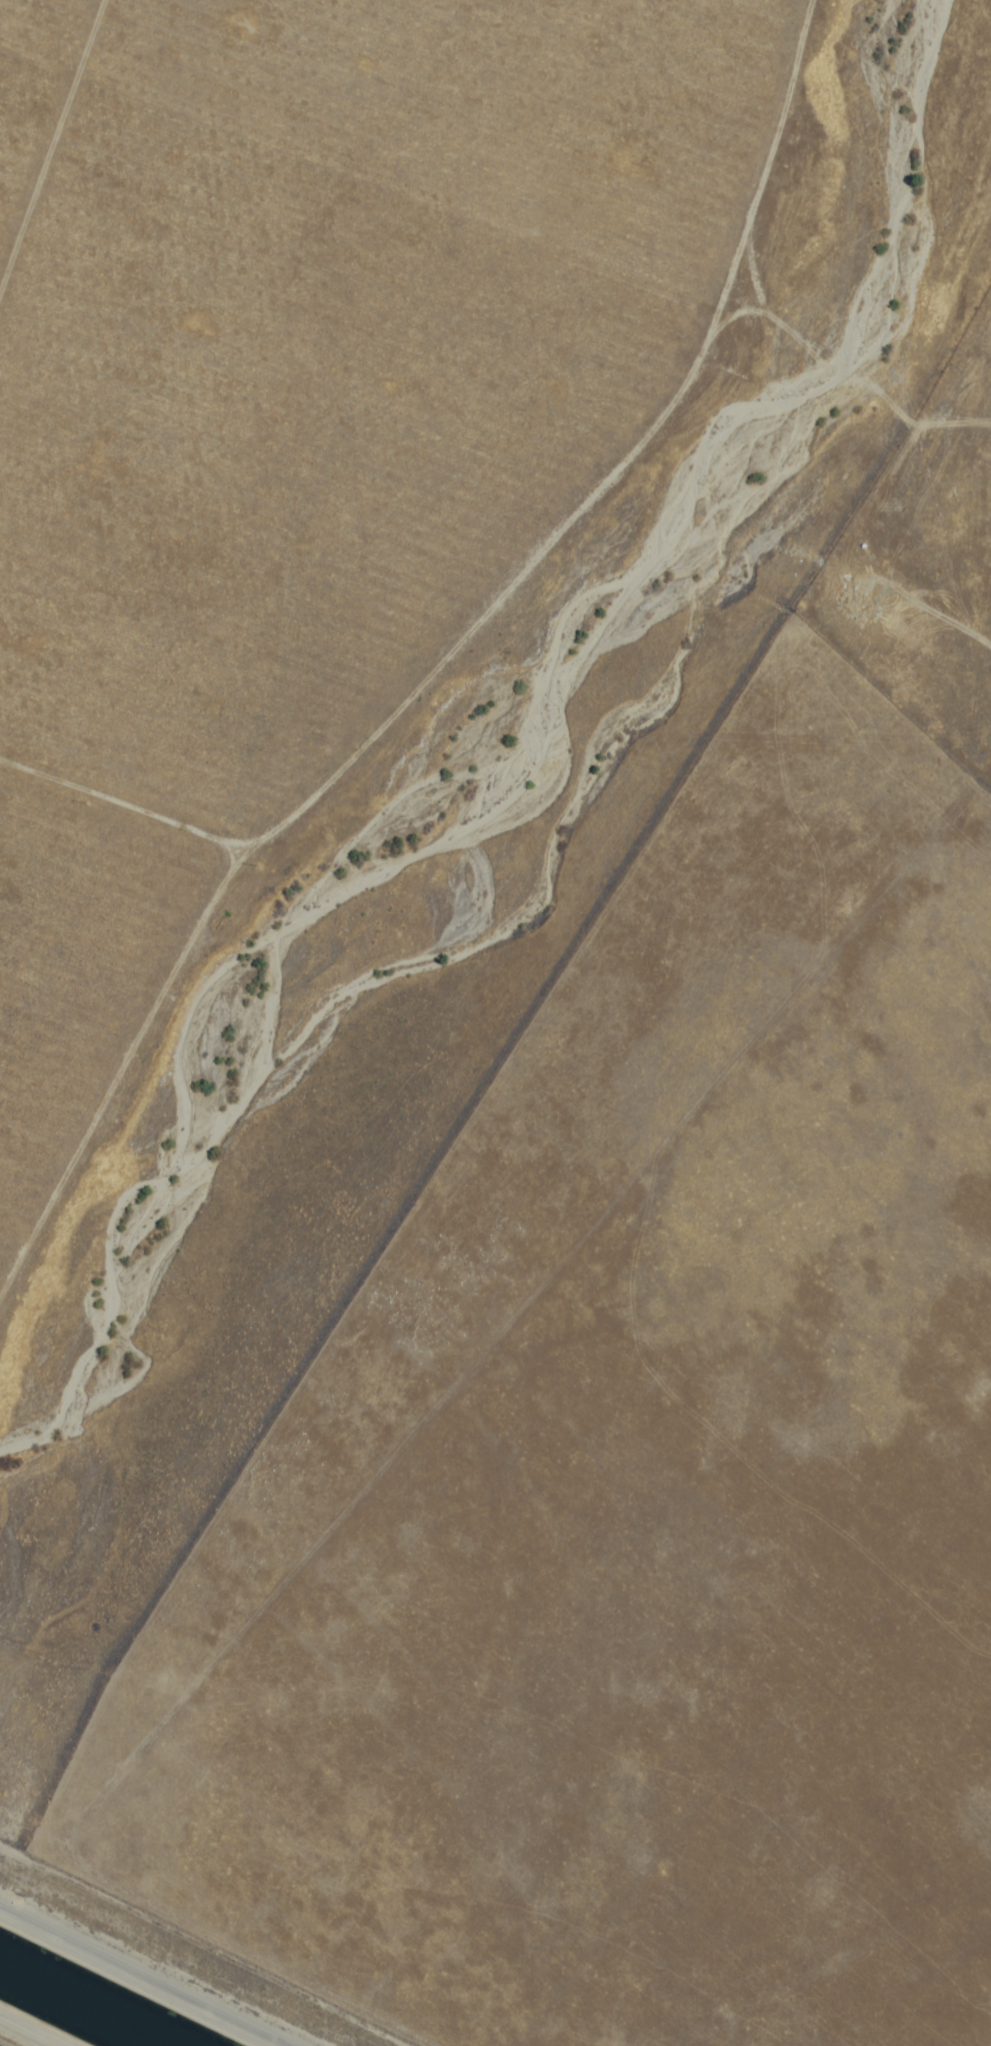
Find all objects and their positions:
road: (207, 1943)
road: (145, 1975)
road: (28, 2031)

